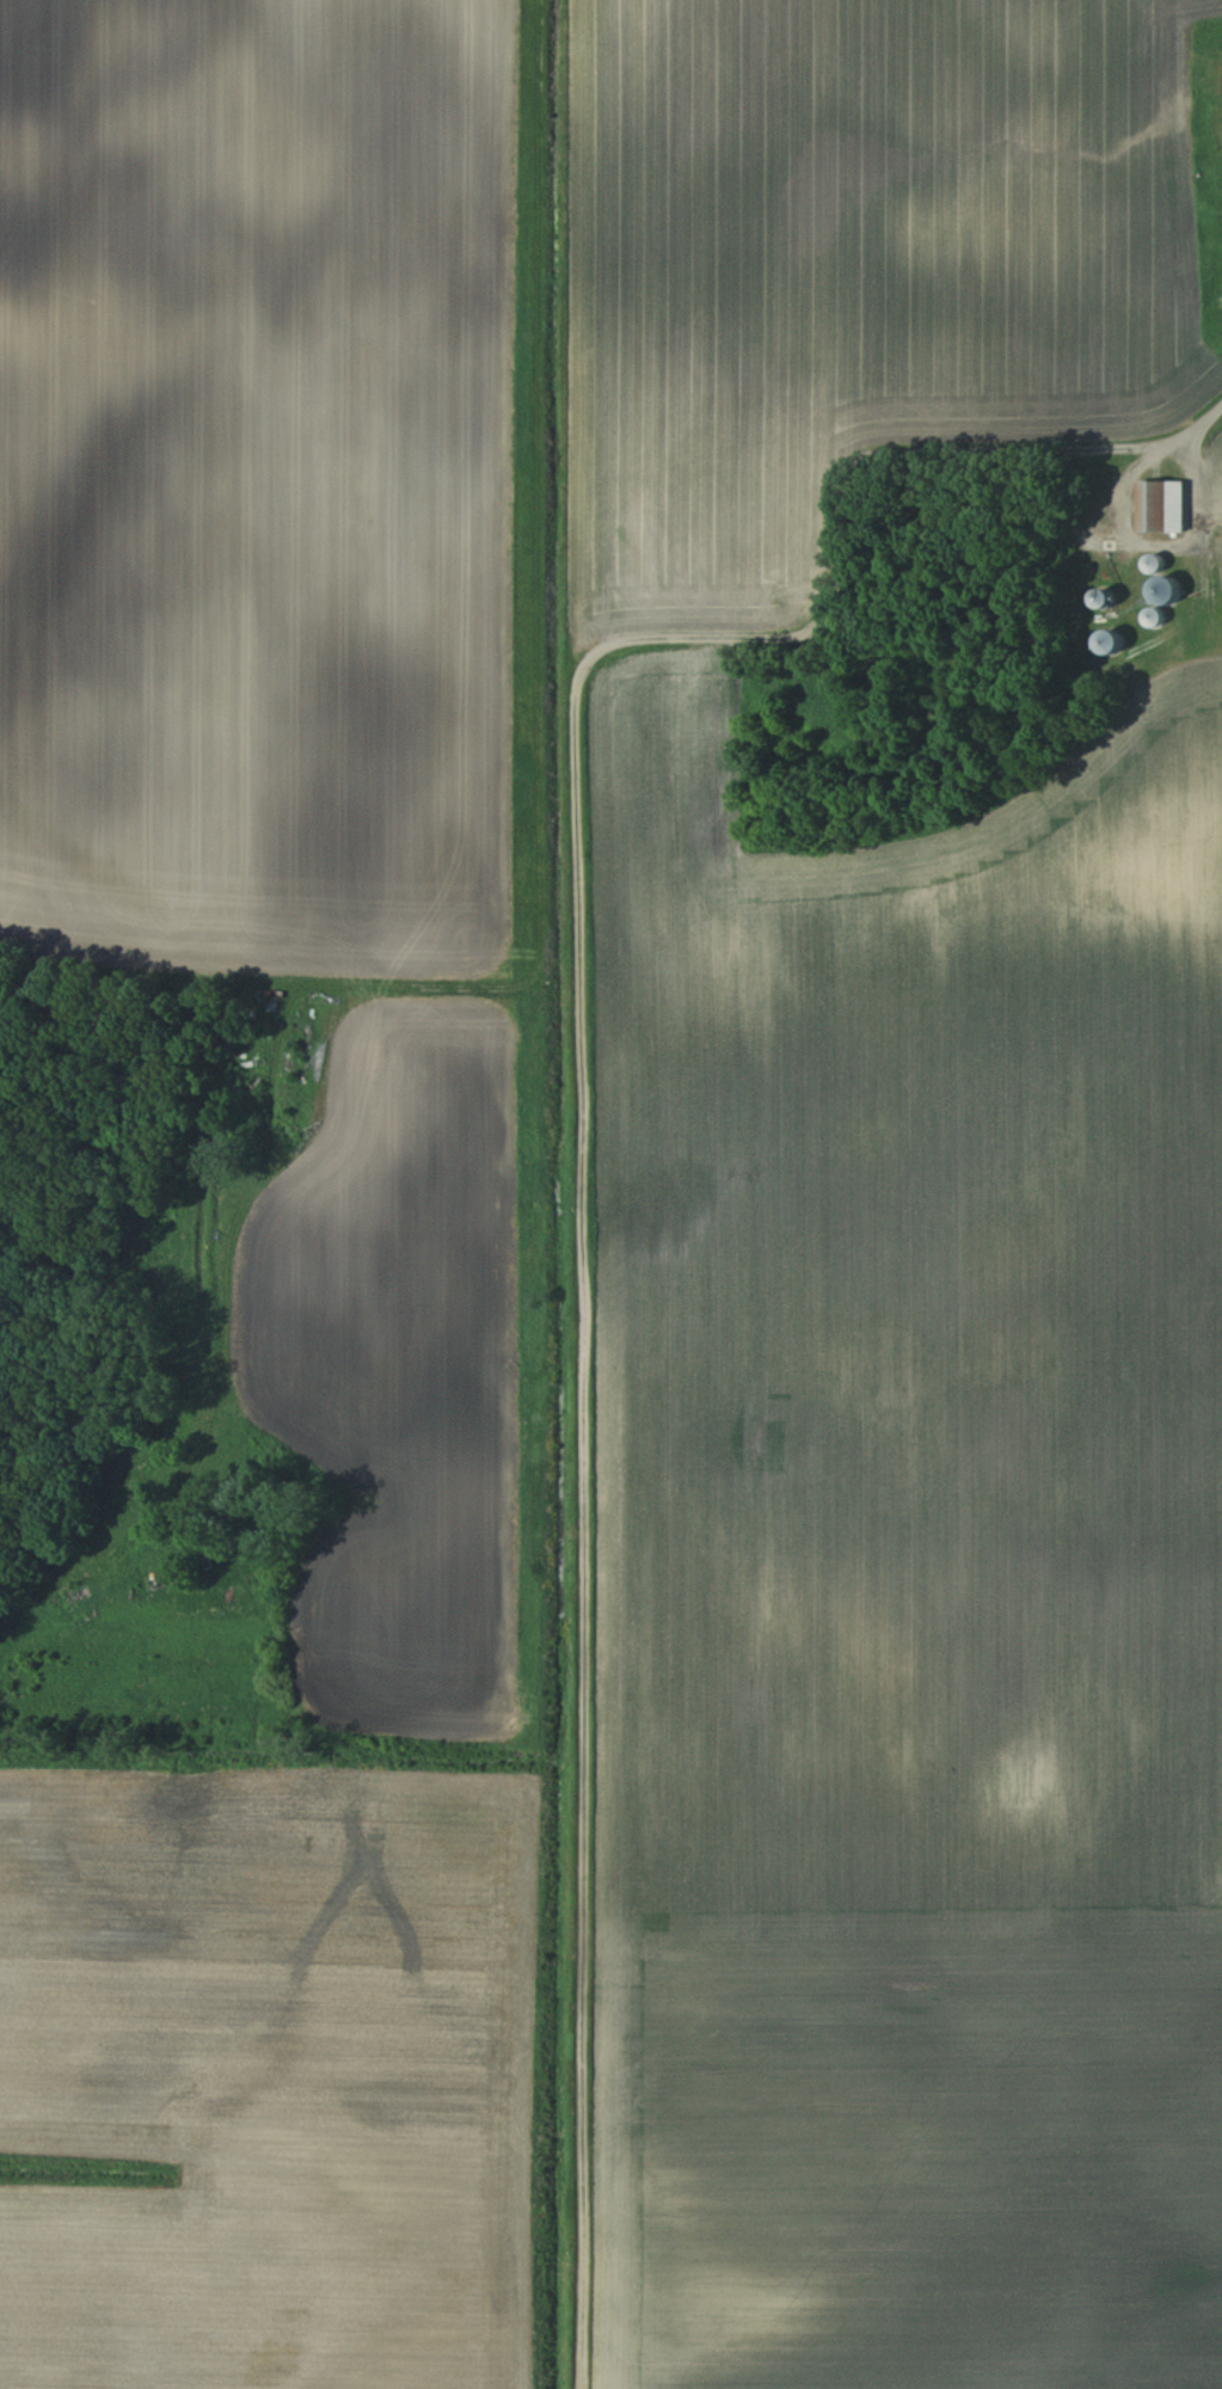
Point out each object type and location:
road: (1208, 422)
building: (1155, 508)
road: (1140, 542)
building: (1148, 565)
building: (1157, 592)
building: (1094, 601)
building: (1149, 619)
building: (1106, 643)

